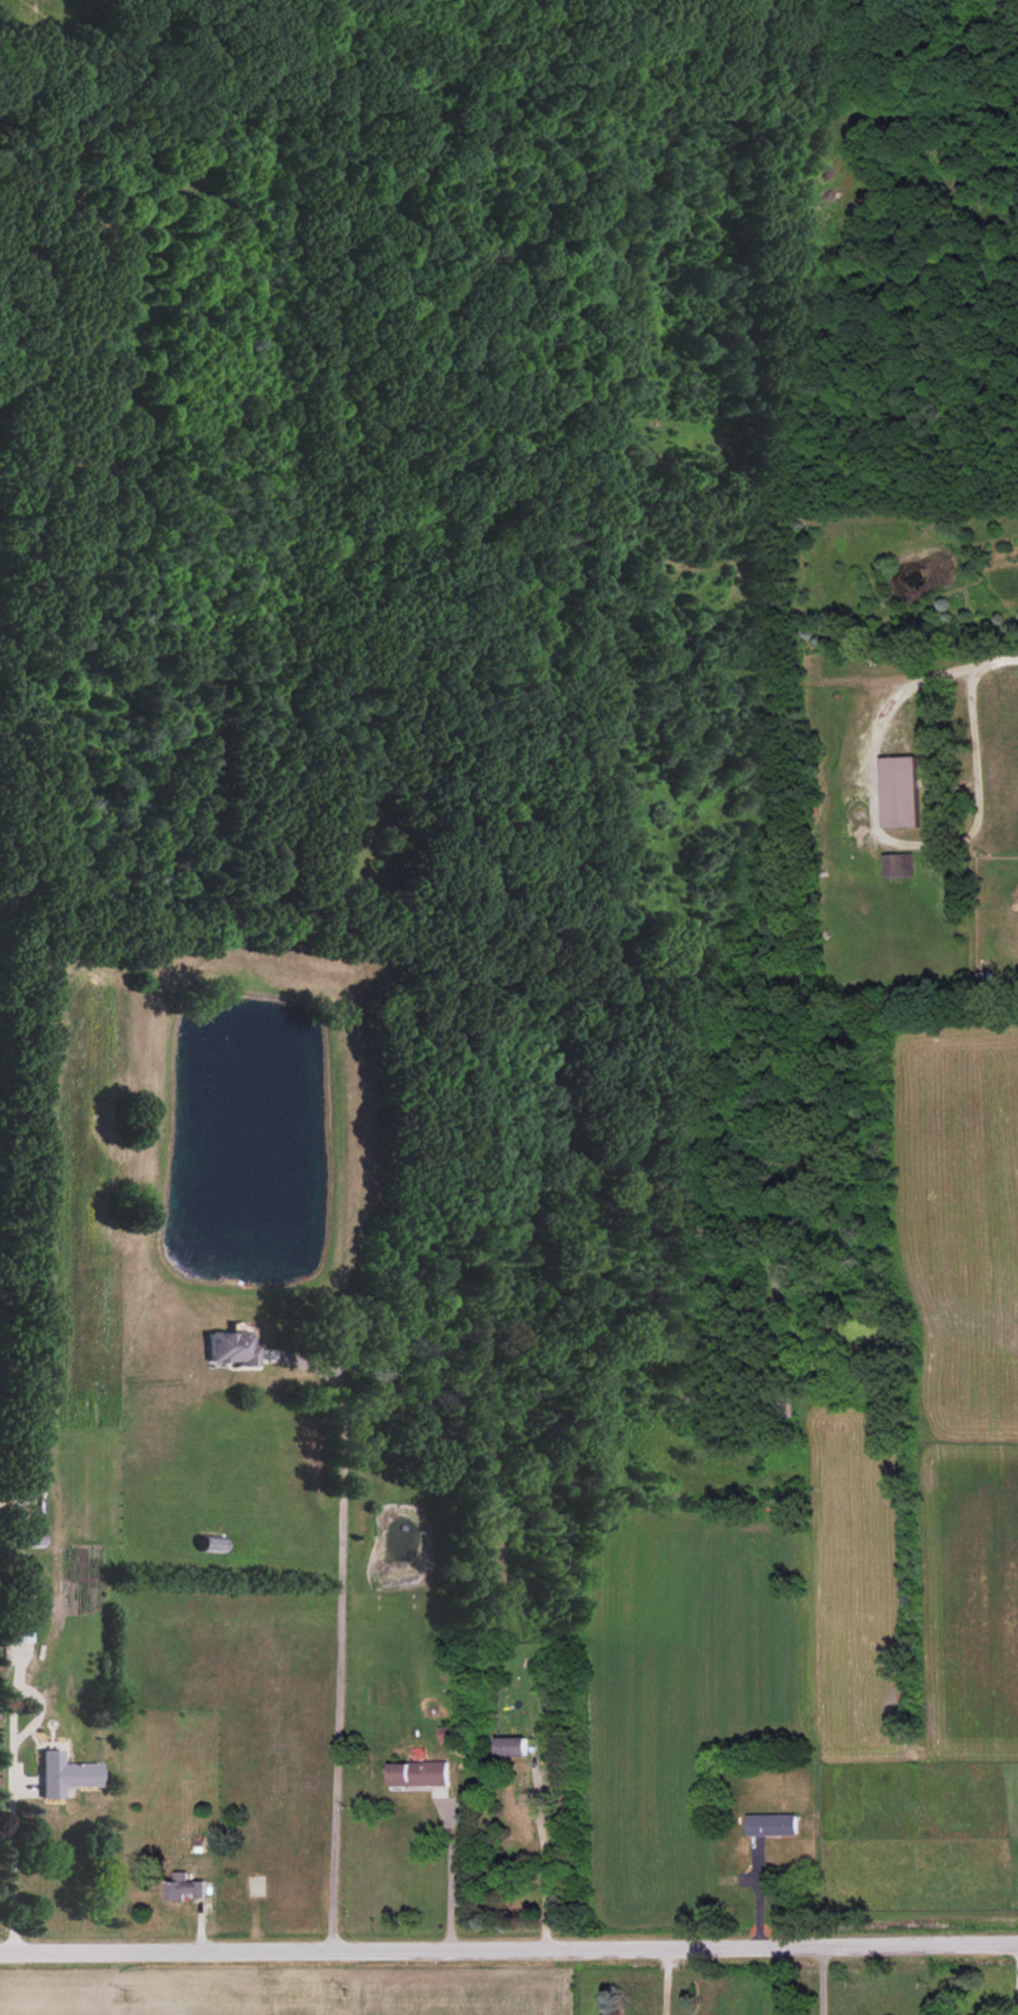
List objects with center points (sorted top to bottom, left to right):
road: (994, 660)
building: (900, 791)
road: (889, 843)
building: (899, 865)
building: (231, 1347)
building: (32, 1540)
building: (212, 1544)
building: (21, 1614)
road: (338, 1644)
building: (510, 1746)
building: (419, 1773)
building: (65, 1774)
building: (772, 1824)
road: (545, 1859)
road: (11, 1866)
road: (448, 1882)
building: (184, 1887)
road: (758, 1894)
road: (509, 1952)
road: (1017, 1978)
road: (822, 1980)

